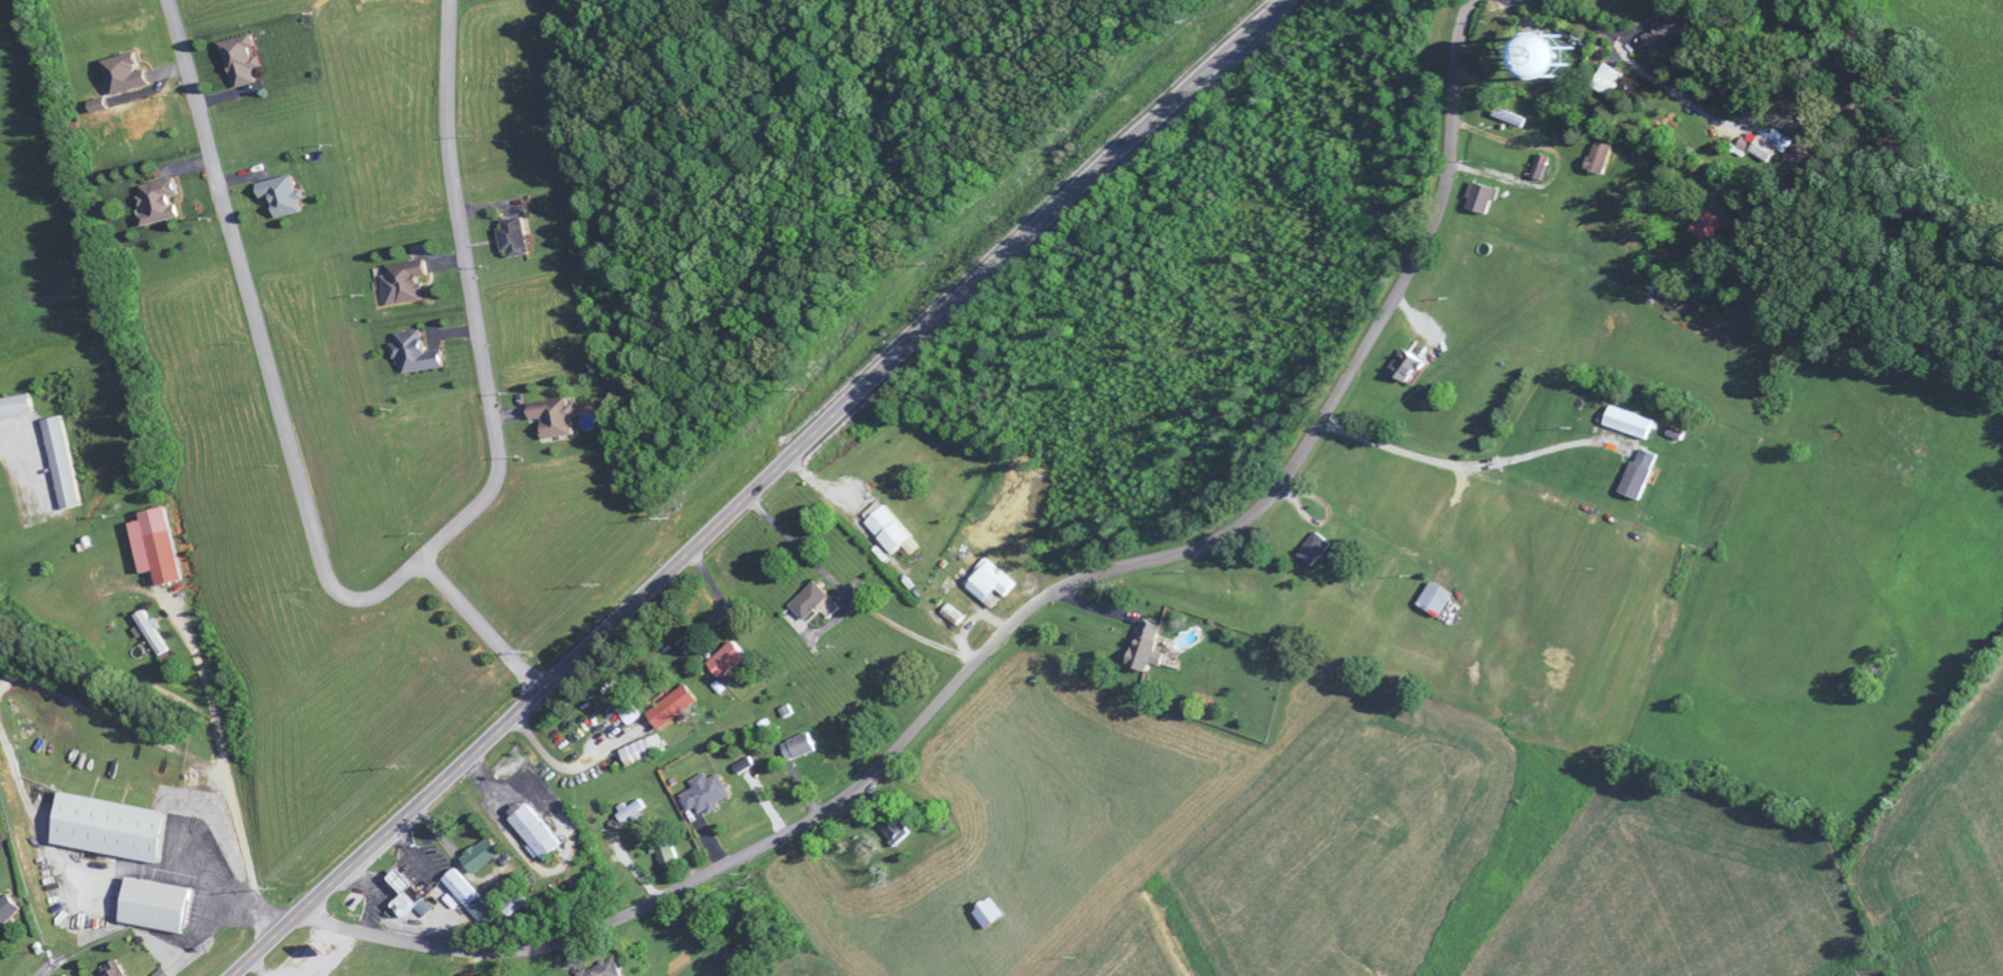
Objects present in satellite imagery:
building: (1669, 34)
building: (241, 64)
building: (123, 77)
building: (1605, 84)
building: (1506, 121)
building: (1763, 148)
building: (1595, 161)
building: (1535, 170)
building: (282, 199)
building: (1477, 202)
building: (157, 205)
building: (1703, 229)
building: (513, 241)
building: (404, 286)
road: (472, 300)
road: (261, 340)
building: (414, 356)
building: (1408, 369)
building: (11, 409)
building: (555, 420)
building: (1626, 426)
building: (1672, 437)
building: (55, 466)
building: (1637, 479)
road: (757, 487)
building: (883, 530)
building: (156, 550)
building: (1312, 553)
building: (986, 585)
building: (945, 589)
road: (1040, 597)
building: (1436, 602)
building: (808, 605)
building: (948, 618)
road: (477, 625)
building: (151, 636)
building: (1145, 651)
building: (731, 664)
building: (678, 712)
building: (630, 715)
building: (796, 751)
building: (645, 753)
building: (740, 769)
building: (703, 797)
building: (627, 814)
building: (110, 832)
building: (892, 834)
building: (533, 835)
building: (659, 858)
building: (480, 859)
building: (468, 901)
building: (408, 902)
building: (156, 910)
building: (6, 912)
building: (987, 917)
road: (331, 924)
building: (601, 971)
building: (113, 972)

